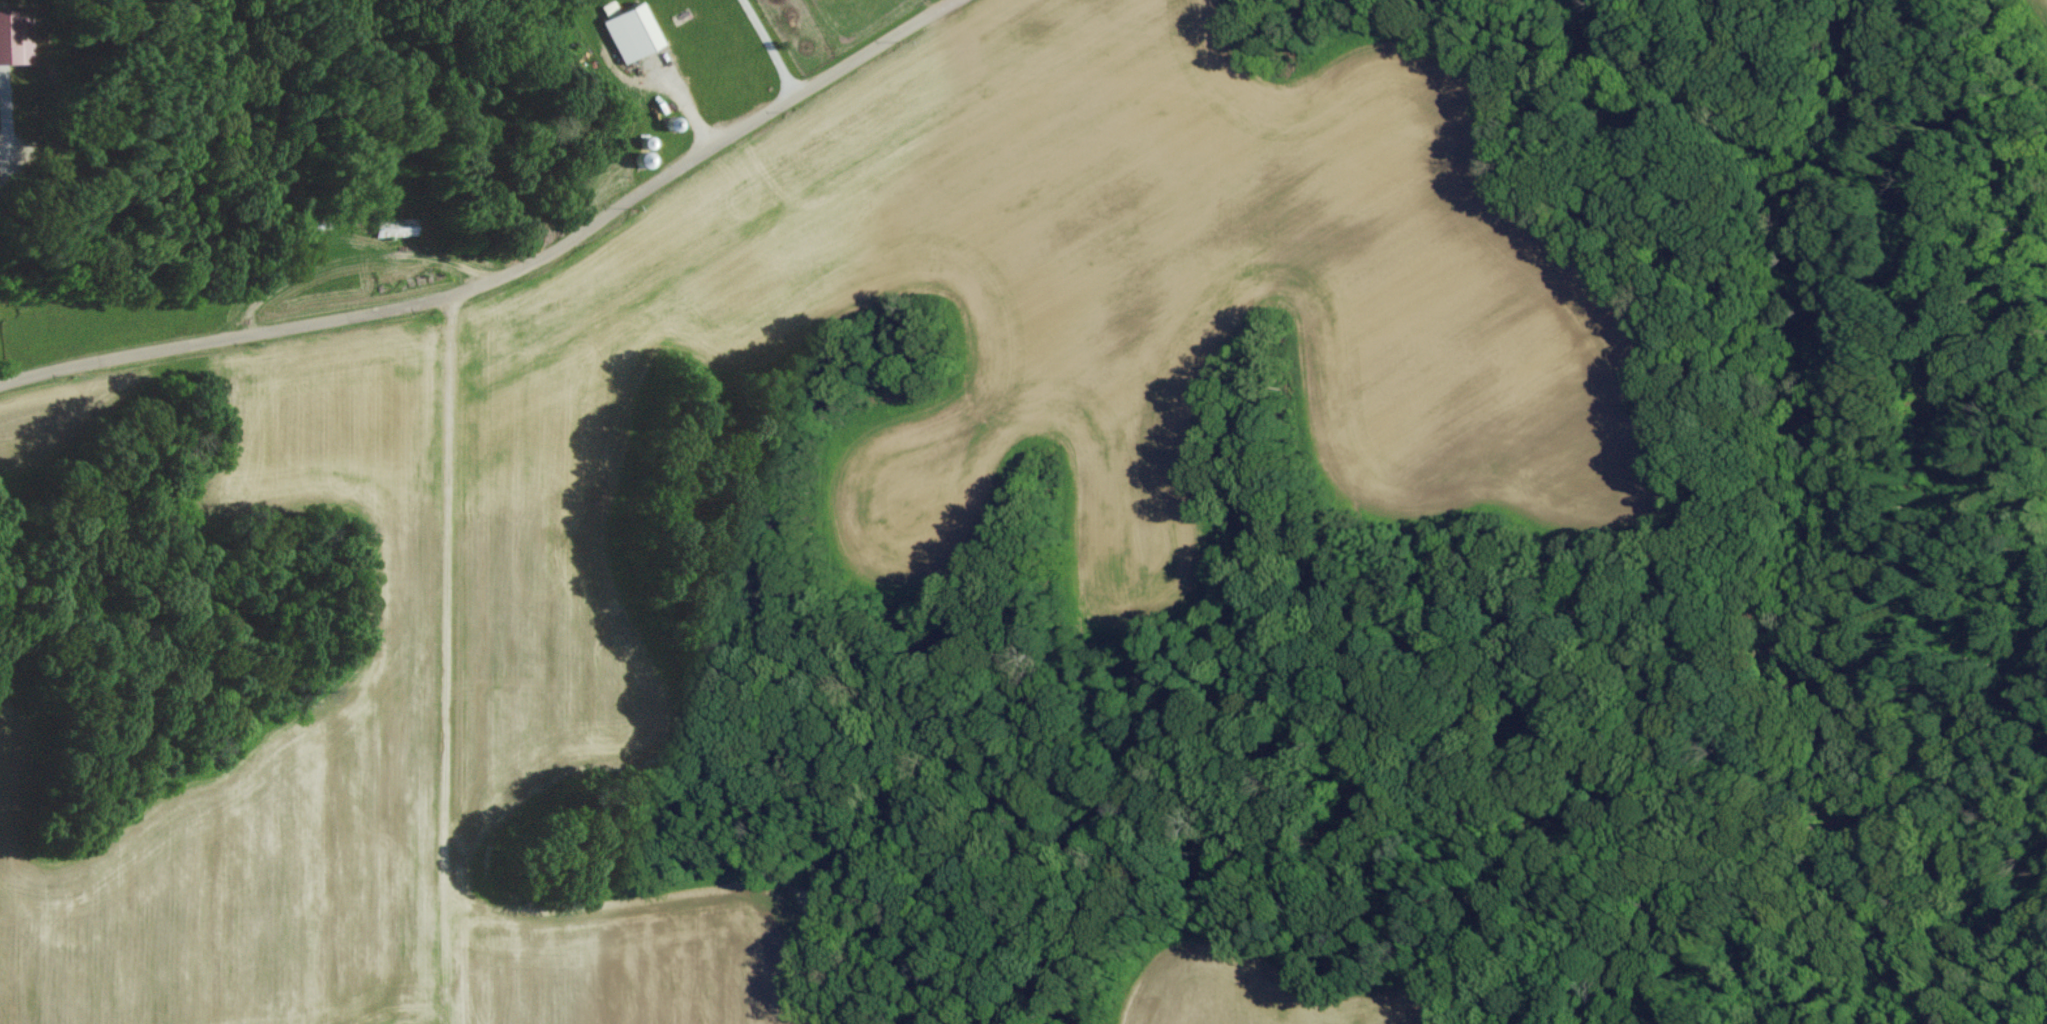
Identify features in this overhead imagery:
road: (948, 2)
building: (629, 31)
building: (14, 36)
road: (763, 46)
building: (394, 227)
road: (504, 274)
road: (446, 603)

